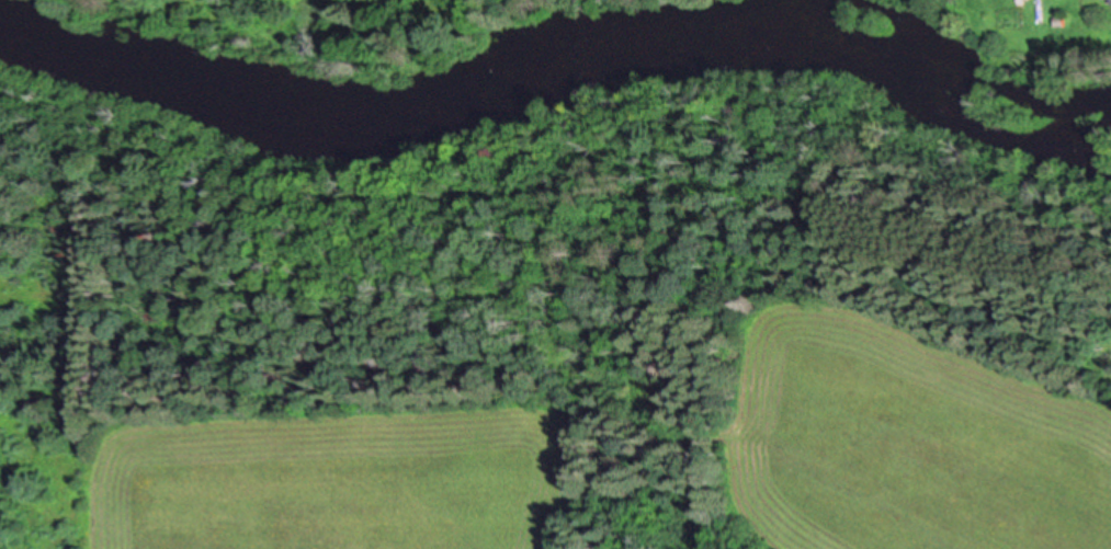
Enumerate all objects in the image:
river: (565, 68)

